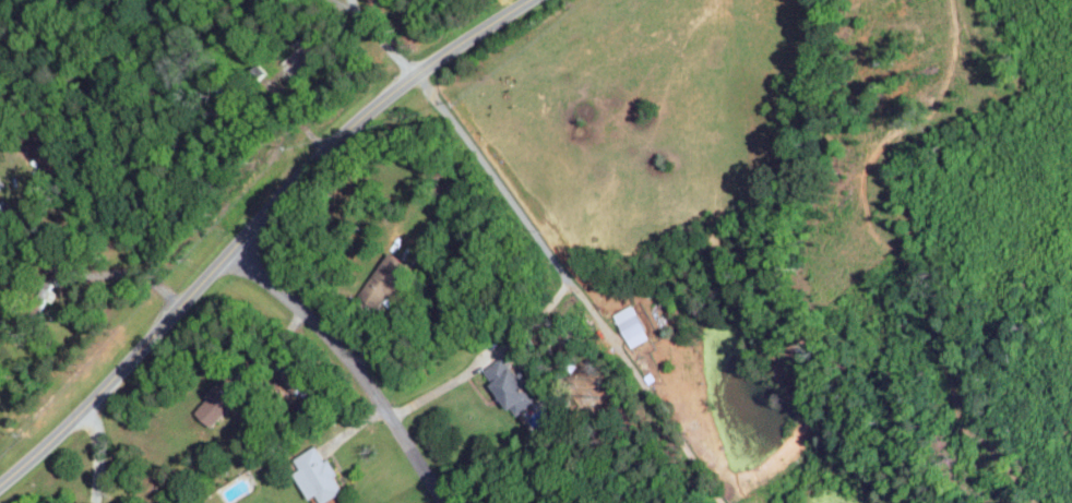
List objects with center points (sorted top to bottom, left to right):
road: (346, 12)
road: (378, 40)
road: (250, 227)
road: (556, 261)
road: (129, 273)
building: (390, 274)
building: (634, 324)
road: (362, 358)
building: (300, 379)
building: (513, 384)
building: (224, 398)
road: (97, 453)
building: (320, 474)

